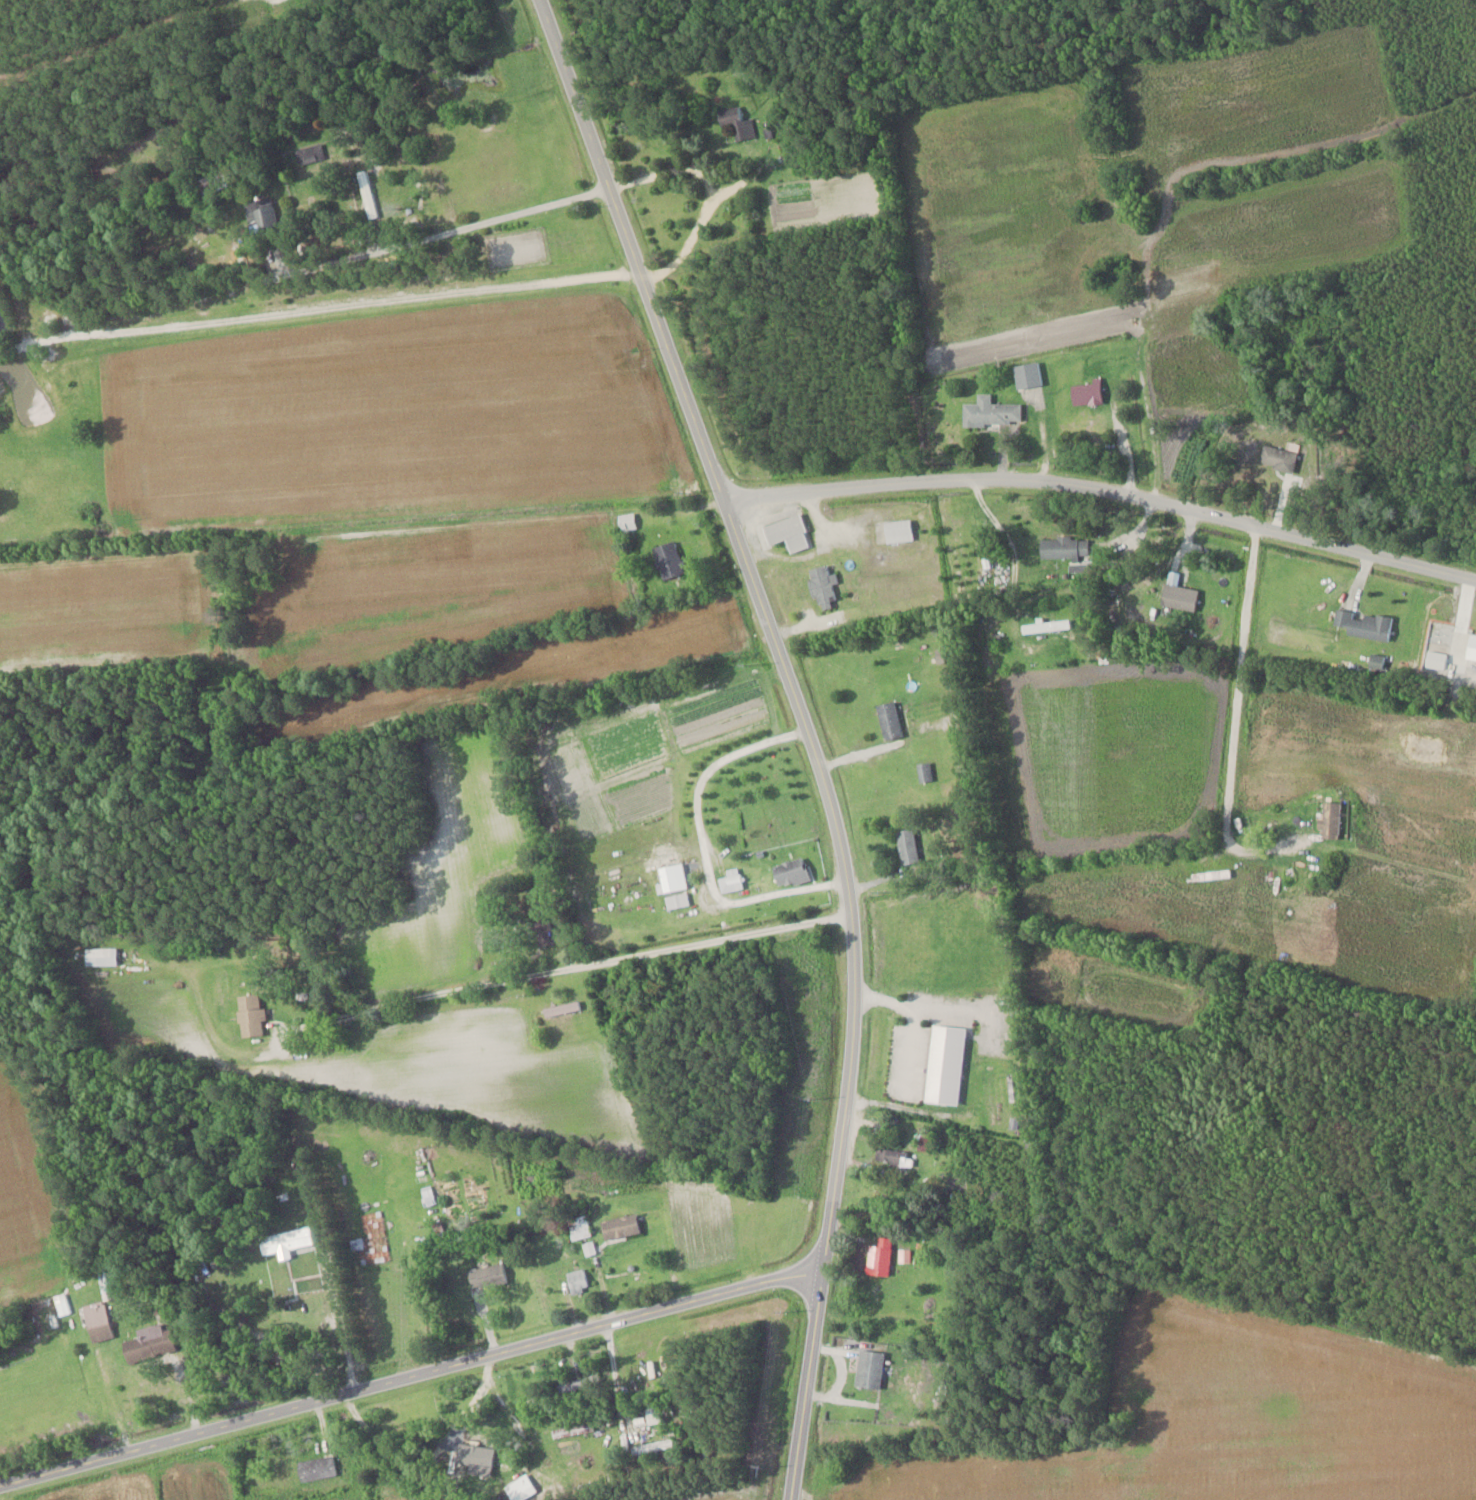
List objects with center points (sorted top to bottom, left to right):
road: (252, 2)
building: (735, 122)
building: (209, 183)
building: (366, 194)
building: (263, 218)
road: (336, 299)
building: (1027, 376)
building: (1087, 393)
building: (990, 413)
building: (1278, 458)
road: (1104, 491)
building: (627, 521)
building: (898, 531)
building: (787, 532)
building: (1064, 547)
road: (1013, 557)
building: (667, 559)
building: (823, 584)
building: (1179, 596)
building: (1362, 623)
building: (1045, 625)
road: (1231, 713)
building: (889, 719)
road: (807, 731)
building: (924, 771)
building: (1329, 819)
building: (906, 846)
building: (790, 871)
building: (730, 883)
building: (676, 900)
building: (544, 937)
building: (100, 956)
road: (527, 994)
building: (561, 1008)
building: (250, 1015)
building: (944, 1064)
building: (894, 1157)
building: (619, 1226)
building: (578, 1227)
building: (285, 1240)
building: (878, 1257)
building: (486, 1276)
building: (576, 1280)
building: (96, 1321)
road: (340, 1323)
building: (147, 1343)
building: (871, 1369)
road: (411, 1377)
building: (570, 1385)
building: (571, 1430)
building: (651, 1446)
building: (471, 1448)
building: (316, 1468)
building: (519, 1491)

